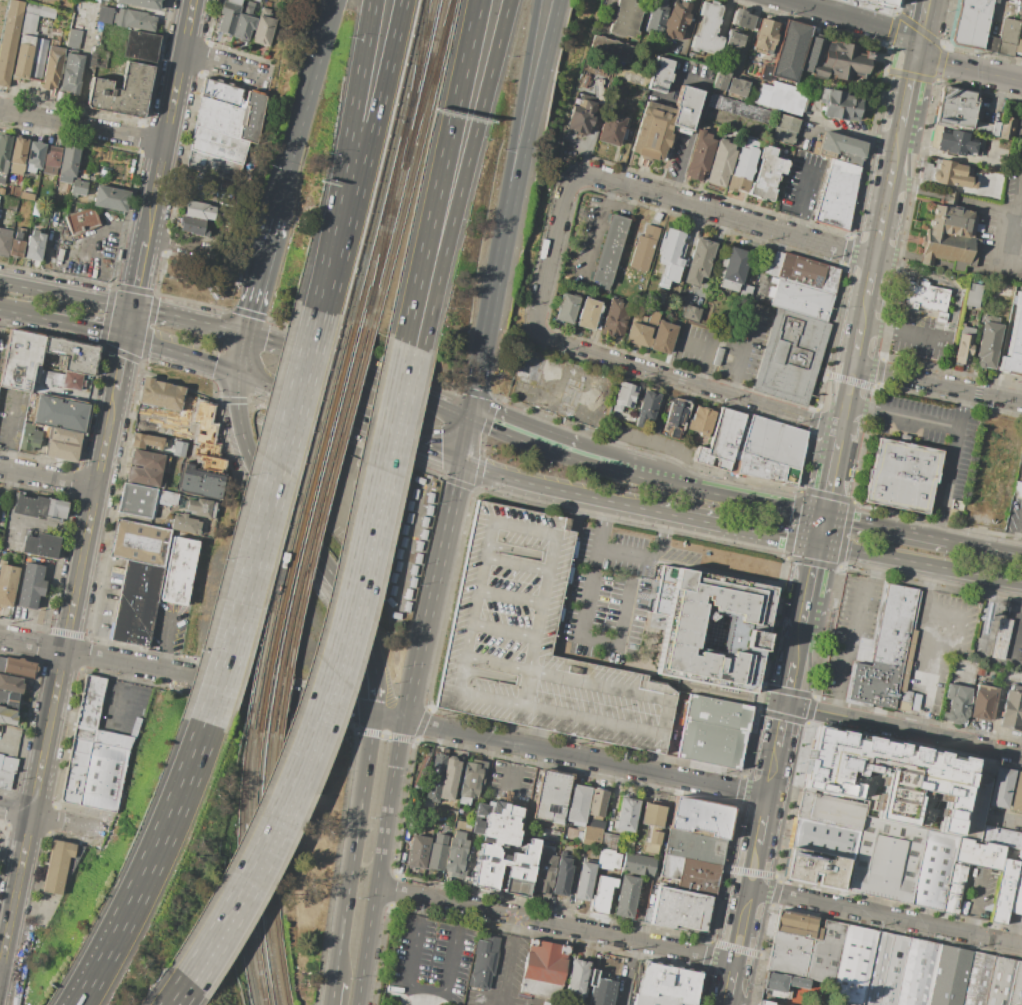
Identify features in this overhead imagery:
building: (256, 0)
building: (995, 0)
park: (58, 3)
building: (141, 3)
building: (250, 3)
building: (877, 3)
building: (40, 11)
road: (604, 12)
building: (104, 14)
building: (655, 15)
building: (229, 16)
building: (628, 18)
building: (743, 18)
road: (856, 18)
building: (134, 19)
building: (676, 20)
building: (245, 23)
road: (922, 23)
building: (971, 23)
building: (29, 24)
building: (264, 28)
building: (705, 29)
building: (766, 35)
building: (73, 38)
building: (1005, 38)
building: (10, 39)
road: (315, 45)
road: (322, 45)
building: (732, 45)
road: (943, 45)
building: (140, 46)
traffic signals: (917, 47)
building: (612, 49)
building: (789, 50)
railway: (418, 52)
building: (23, 57)
building: (96, 58)
building: (37, 59)
building: (836, 60)
road: (223, 64)
building: (52, 65)
road: (967, 68)
building: (594, 70)
building: (765, 72)
building: (71, 74)
building: (610, 74)
building: (661, 75)
building: (721, 77)
railway: (428, 80)
road: (909, 85)
building: (736, 86)
building: (122, 91)
building: (221, 91)
building: (781, 98)
road: (698, 105)
building: (840, 105)
building: (739, 108)
building: (686, 109)
building: (955, 110)
building: (580, 113)
building: (251, 116)
building: (218, 117)
road: (809, 120)
road: (81, 125)
building: (611, 128)
building: (653, 129)
building: (786, 130)
building: (987, 130)
building: (1007, 130)
road: (854, 131)
road: (513, 132)
road: (528, 132)
road: (346, 142)
building: (955, 142)
road: (370, 143)
building: (218, 144)
building: (85, 150)
building: (839, 150)
road: (293, 154)
building: (699, 155)
building: (4, 156)
building: (18, 156)
building: (34, 156)
building: (52, 157)
railway: (386, 161)
building: (68, 162)
railway: (395, 163)
building: (720, 163)
building: (213, 164)
railway: (404, 165)
railway: (413, 166)
building: (742, 167)
building: (105, 169)
building: (81, 170)
road: (439, 171)
building: (767, 173)
road: (463, 174)
building: (953, 176)
parking lot: (803, 185)
building: (78, 188)
building: (837, 196)
road: (888, 196)
road: (953, 196)
road: (797, 197)
building: (111, 198)
building: (199, 210)
railway: (387, 212)
road: (727, 216)
road: (594, 217)
building: (80, 220)
building: (192, 226)
road: (1011, 227)
parking lot: (1005, 233)
building: (951, 237)
parking lot: (590, 239)
building: (4, 241)
road: (70, 241)
road: (176, 243)
building: (17, 245)
building: (34, 245)
road: (846, 249)
building: (643, 250)
building: (609, 251)
building: (668, 256)
building: (699, 260)
building: (733, 269)
building: (803, 272)
road: (260, 274)
road: (942, 283)
road: (872, 284)
building: (746, 291)
building: (1003, 291)
road: (64, 295)
building: (976, 297)
building: (925, 298)
building: (802, 299)
road: (331, 300)
building: (656, 305)
traffic signals: (130, 307)
building: (566, 309)
road: (161, 312)
building: (587, 313)
building: (690, 313)
road: (866, 313)
road: (21, 314)
building: (614, 319)
road: (218, 325)
road: (83, 326)
building: (641, 327)
traffic signals: (245, 332)
road: (904, 335)
traffic signals: (124, 337)
building: (663, 337)
parking lot: (918, 337)
road: (483, 339)
road: (274, 341)
building: (1012, 342)
parking lot: (744, 343)
building: (963, 345)
road: (860, 346)
building: (986, 346)
parking lot: (696, 349)
road: (706, 349)
road: (240, 351)
road: (742, 351)
building: (73, 355)
building: (717, 356)
building: (791, 357)
road: (614, 359)
building: (21, 360)
building: (50, 365)
building: (528, 365)
traffic signals: (236, 371)
building: (65, 380)
road: (262, 381)
road: (388, 381)
road: (865, 383)
road: (939, 383)
building: (39, 391)
building: (161, 394)
building: (624, 397)
road: (850, 403)
building: (648, 410)
building: (58, 413)
road: (387, 414)
traffic signals: (472, 414)
road: (905, 415)
building: (144, 418)
road: (398, 418)
building: (676, 419)
building: (700, 419)
road: (814, 420)
road: (7, 427)
building: (45, 431)
road: (524, 433)
building: (29, 437)
building: (146, 441)
building: (721, 441)
parking lot: (935, 441)
road: (649, 443)
building: (63, 444)
building: (179, 448)
road: (429, 450)
building: (768, 452)
building: (202, 456)
traffic signals: (462, 463)
road: (952, 463)
building: (145, 468)
road: (637, 470)
road: (47, 477)
road: (834, 477)
building: (901, 477)
road: (95, 482)
road: (557, 490)
building: (1017, 490)
building: (167, 497)
road: (762, 500)
building: (137, 501)
building: (39, 507)
building: (202, 507)
traffic signals: (826, 514)
road: (286, 516)
parking lot: (1014, 517)
road: (272, 520)
road: (35, 521)
building: (185, 524)
railway: (291, 525)
railway: (300, 526)
road: (881, 526)
railway: (308, 528)
road: (737, 529)
road: (823, 530)
railway: (318, 531)
road: (1017, 531)
building: (139, 543)
building: (41, 545)
traffic signals: (820, 546)
road: (979, 546)
parking lot: (618, 549)
road: (645, 552)
road: (677, 558)
building: (2, 562)
road: (920, 563)
road: (438, 567)
road: (838, 567)
building: (179, 570)
road: (813, 577)
building: (8, 583)
building: (31, 585)
road: (607, 591)
building: (136, 604)
road: (604, 607)
parking lot: (605, 615)
road: (19, 617)
road: (577, 627)
building: (679, 629)
road: (802, 630)
parking lot: (850, 632)
road: (855, 635)
road: (934, 635)
road: (168, 637)
building: (1001, 639)
road: (1017, 640)
building: (536, 641)
parking lot: (536, 641)
parking lot: (935, 647)
building: (885, 655)
building: (17, 667)
road: (187, 675)
road: (793, 678)
road: (378, 680)
building: (10, 683)
road: (121, 694)
building: (9, 700)
building: (983, 701)
building: (955, 704)
traffic signals: (788, 705)
building: (1012, 708)
road: (809, 710)
building: (7, 716)
road: (389, 718)
road: (905, 729)
road: (782, 731)
building: (714, 732)
road: (303, 740)
road: (7, 742)
building: (96, 754)
road: (587, 758)
road: (397, 760)
building: (9, 763)
road: (509, 770)
building: (434, 775)
building: (449, 778)
road: (774, 778)
building: (5, 779)
building: (890, 779)
building: (470, 783)
parking lot: (511, 783)
building: (1000, 788)
road: (739, 790)
building: (1017, 795)
building: (551, 796)
building: (597, 802)
building: (578, 804)
building: (973, 807)
building: (830, 809)
building: (626, 815)
road: (50, 818)
building: (700, 818)
road: (1004, 818)
road: (14, 822)
road: (765, 823)
building: (462, 825)
building: (652, 826)
building: (592, 829)
building: (1001, 837)
park: (0, 838)
building: (824, 839)
building: (608, 842)
building: (694, 846)
building: (1021, 847)
road: (353, 849)
building: (490, 850)
building: (418, 851)
building: (457, 851)
building: (437, 853)
building: (606, 860)
building: (886, 861)
building: (59, 865)
building: (638, 865)
building: (670, 866)
railway: (253, 867)
building: (815, 867)
road: (155, 868)
railway: (242, 868)
railway: (264, 868)
road: (755, 869)
railway: (274, 870)
building: (933, 870)
building: (545, 873)
road: (760, 873)
building: (561, 876)
building: (698, 877)
building: (583, 881)
building: (952, 889)
building: (1002, 890)
parking lot: (980, 891)
building: (1016, 891)
building: (601, 895)
building: (626, 897)
road: (977, 901)
road: (375, 902)
building: (679, 909)
road: (886, 917)
road: (744, 925)
road: (557, 927)
building: (798, 927)
road: (723, 946)
building: (823, 953)
building: (788, 955)
parking lot: (429, 959)
building: (484, 961)
road: (508, 962)
building: (851, 966)
road: (588, 969)
building: (875, 969)
building: (542, 970)
building: (891, 971)
road: (627, 973)
building: (915, 973)
parking lot: (501, 977)
building: (948, 977)
building: (976, 980)
building: (576, 981)
parking lot: (624, 982)
building: (998, 982)
road: (732, 983)
building: (784, 983)
building: (666, 984)
building: (1015, 986)
road: (425, 987)
road: (172, 989)
building: (600, 992)
road: (329, 994)
road: (485, 1001)
building: (651, 1001)
building: (546, 1004)
building: (766, 1004)
building: (844, 1004)

